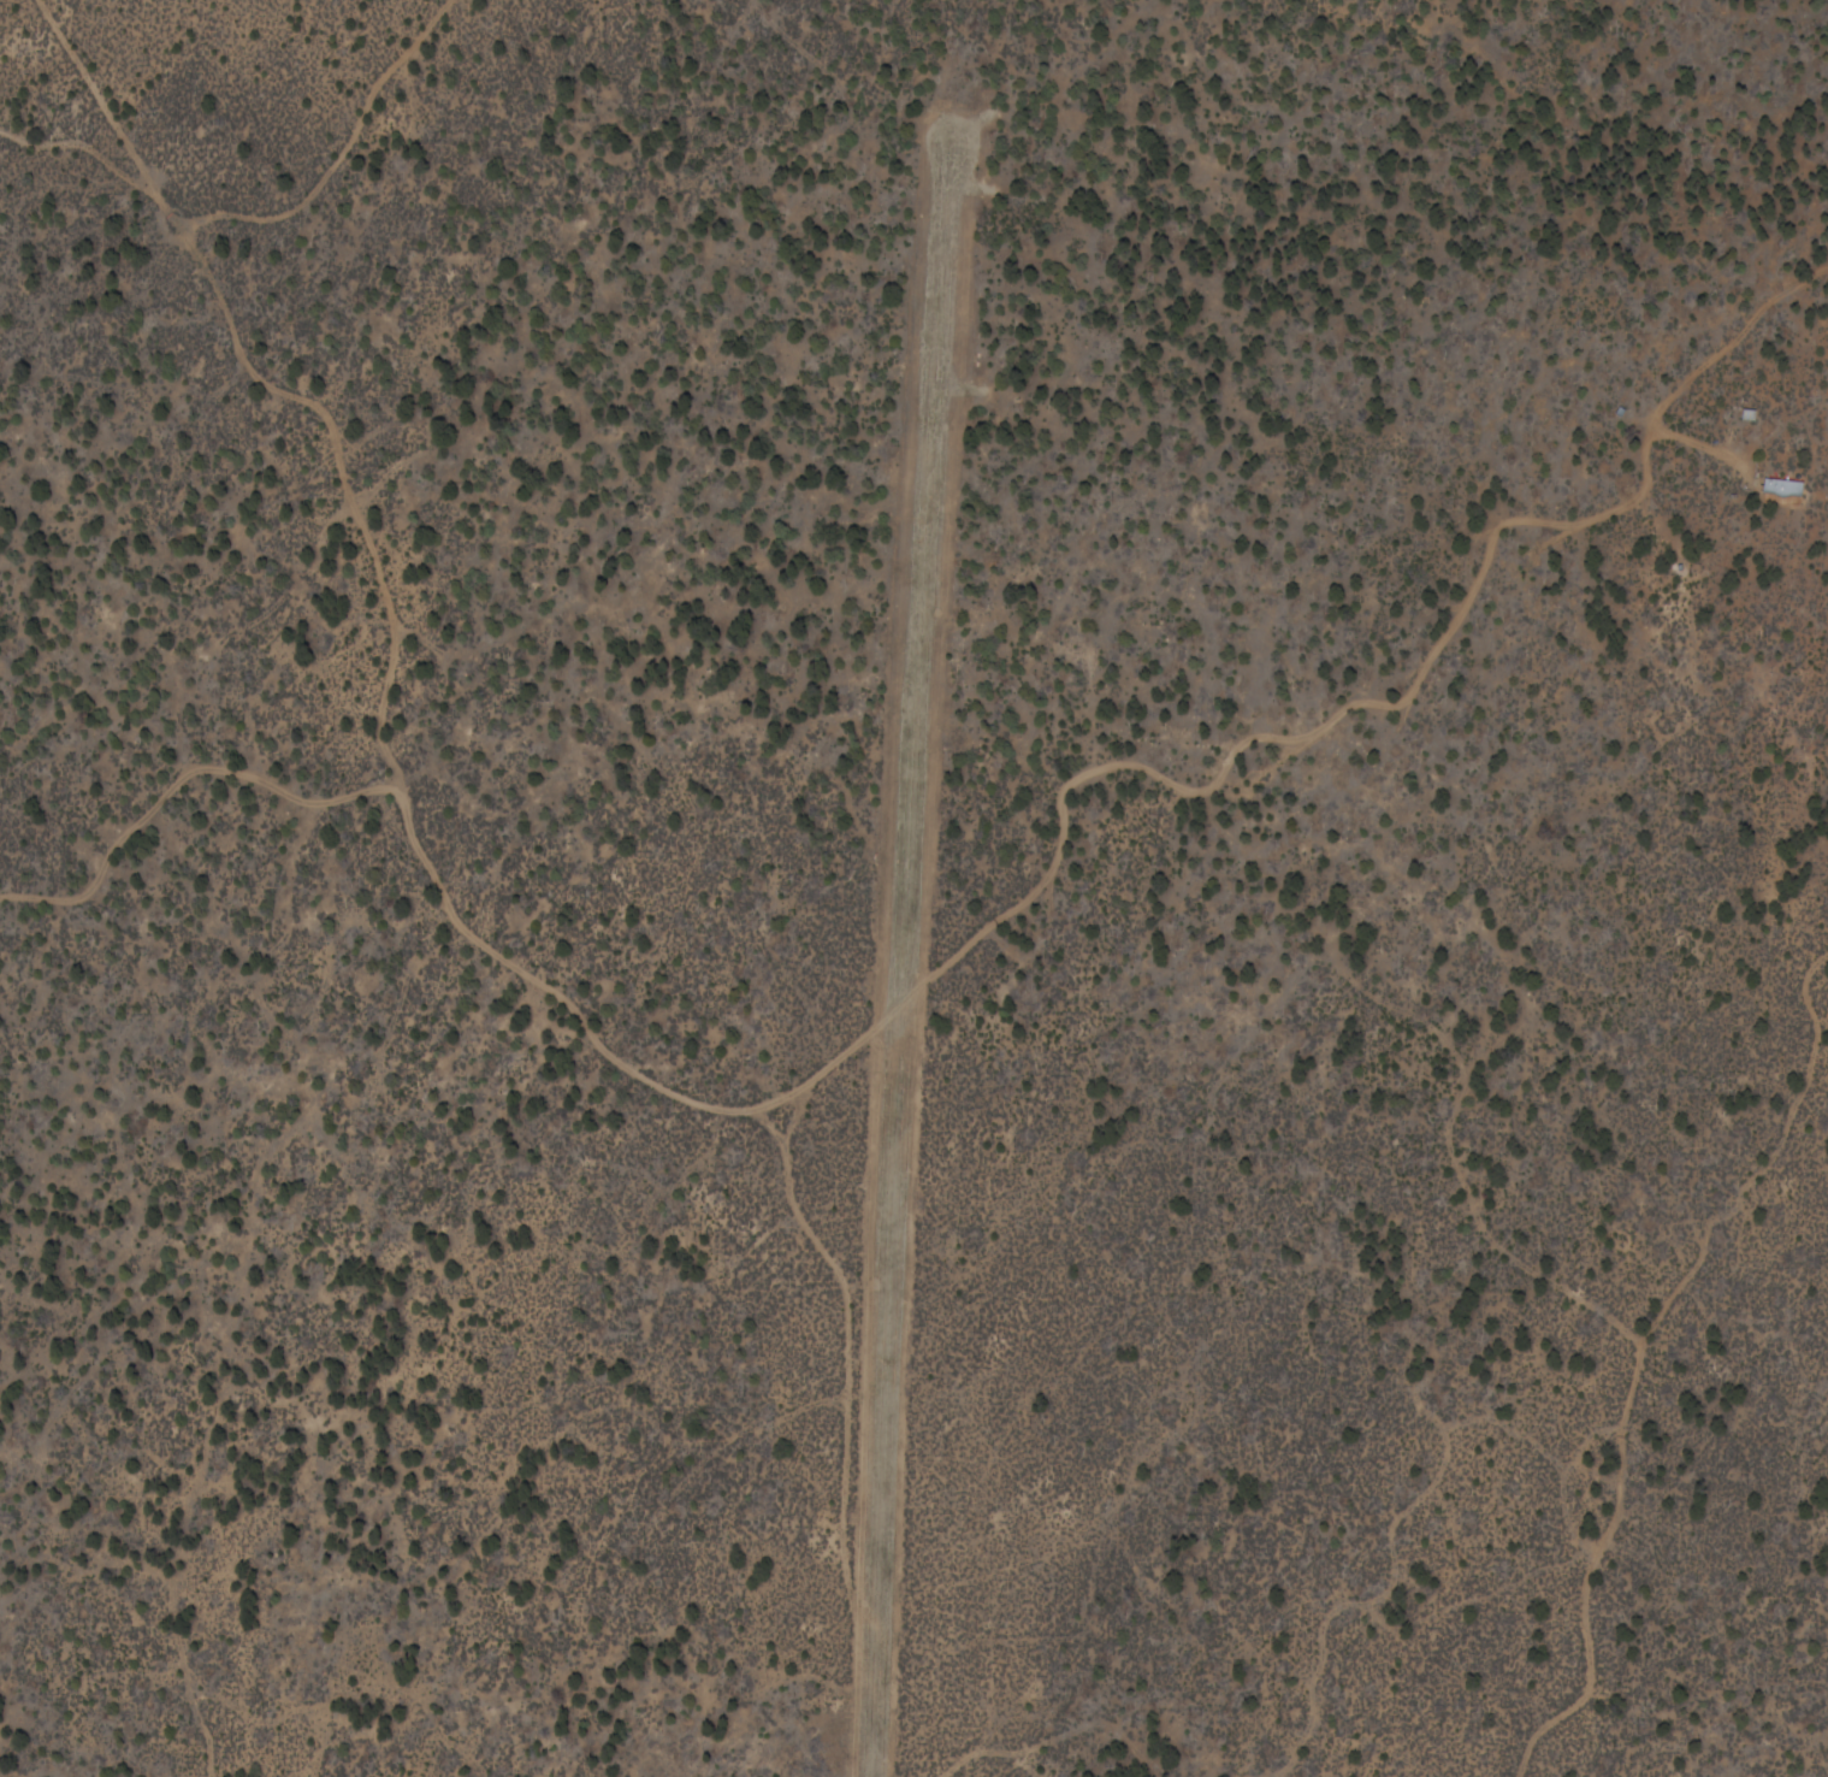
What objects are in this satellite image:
road: (286, 175)
building: (1785, 486)
road: (508, 923)
airport runway: (907, 963)

